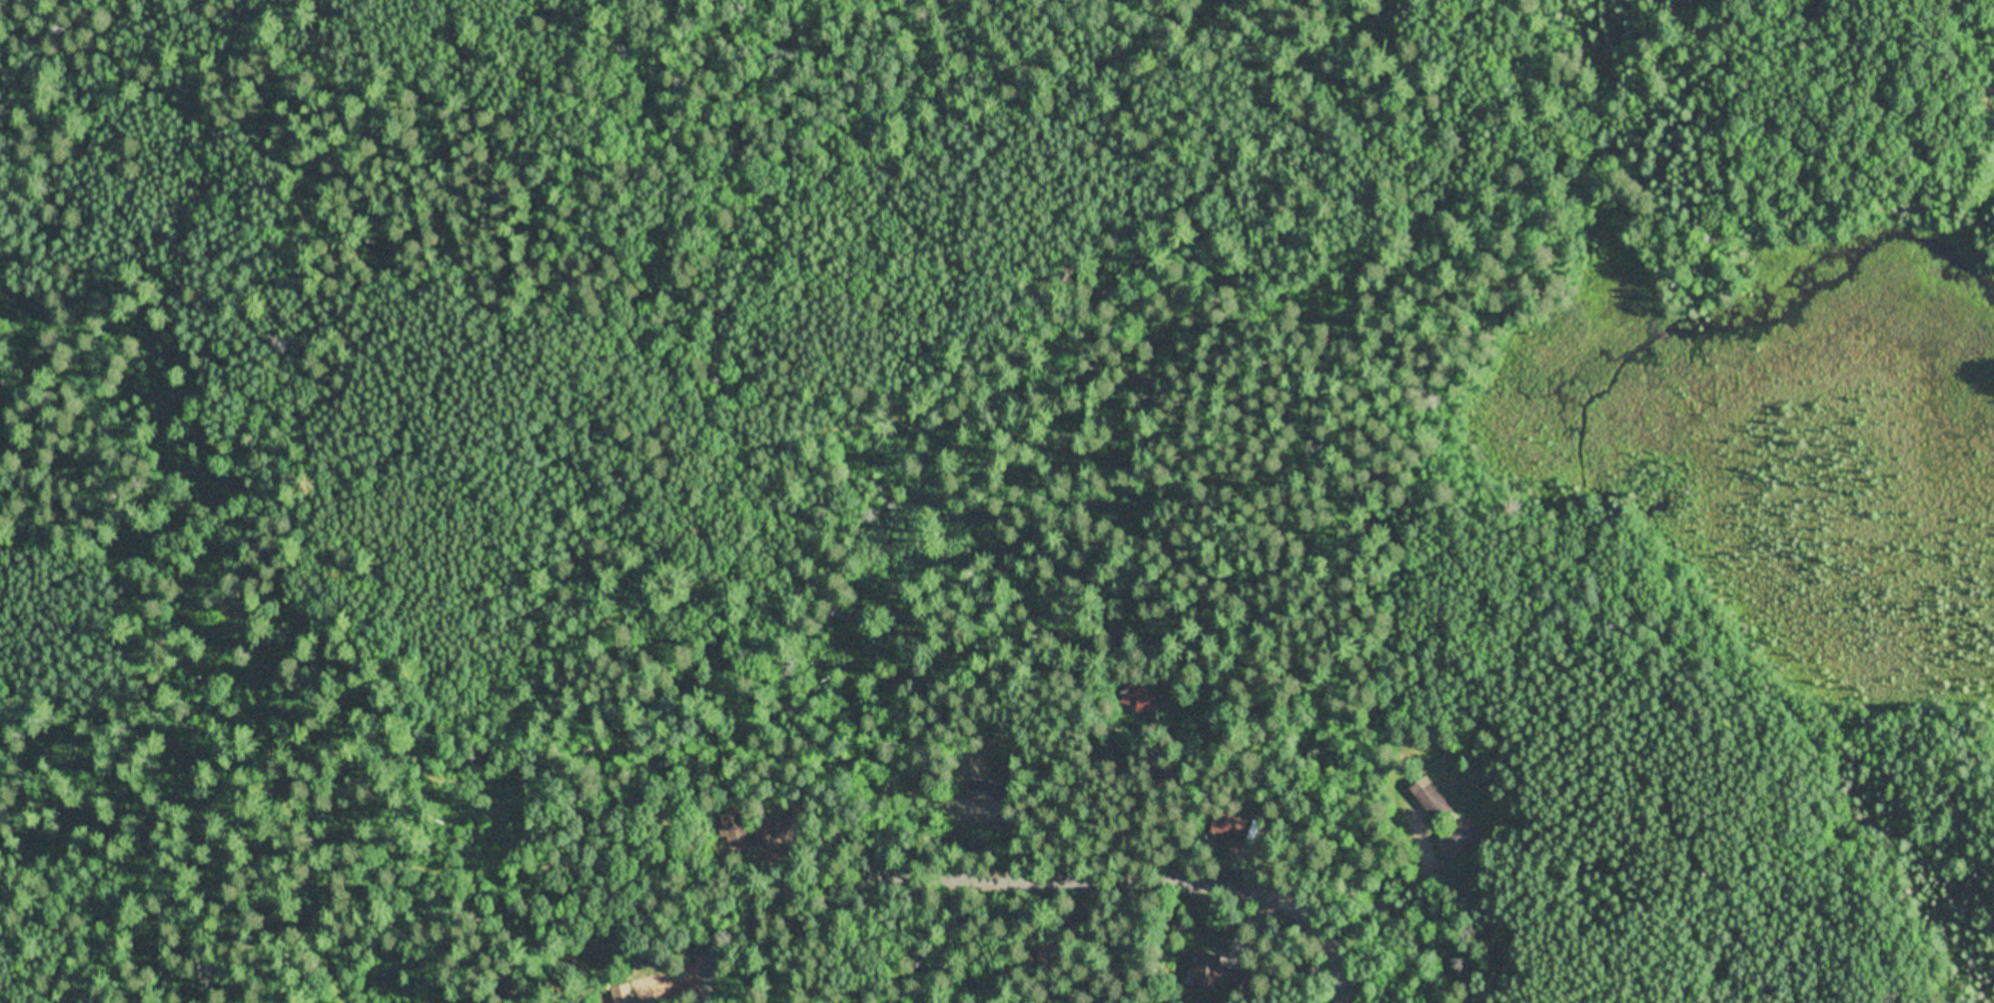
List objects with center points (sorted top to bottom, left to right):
building: (1142, 694)
building: (1448, 728)
building: (989, 791)
building: (1435, 804)
building: (730, 826)
building: (1228, 827)
building: (749, 833)
building: (762, 833)
building: (1456, 841)
road: (1033, 877)
building: (1044, 954)
building: (1219, 970)
road: (710, 980)
road: (1342, 988)
building: (623, 994)
building: (1081, 1002)

